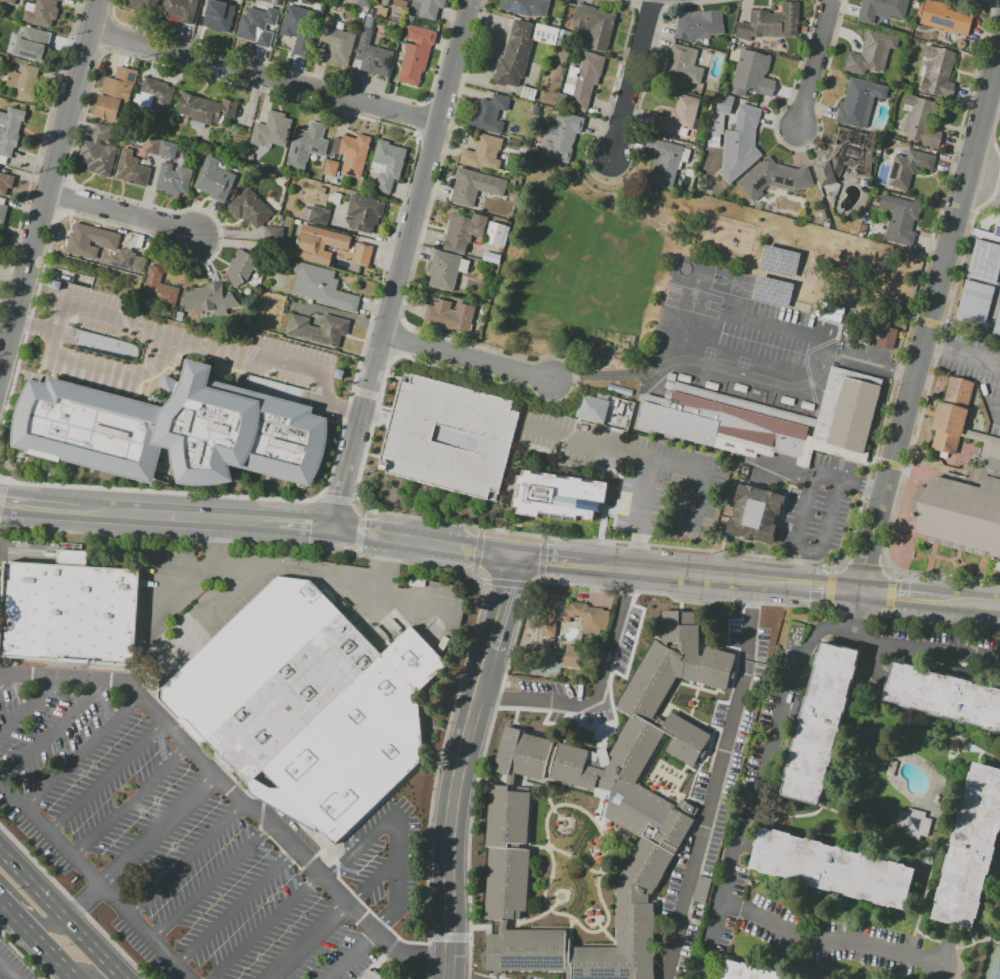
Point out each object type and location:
building: (9, 2)
building: (362, 3)
building: (141, 5)
building: (399, 7)
building: (526, 7)
building: (430, 8)
building: (179, 10)
building: (881, 10)
building: (41, 12)
building: (219, 15)
building: (946, 17)
building: (258, 20)
building: (297, 23)
building: (771, 23)
building: (595, 25)
building: (698, 25)
building: (5, 26)
road: (999, 45)
building: (338, 46)
building: (35, 47)
building: (416, 53)
building: (871, 53)
building: (373, 54)
building: (0, 55)
building: (515, 55)
building: (0, 59)
road: (812, 63)
building: (684, 64)
building: (937, 70)
road: (263, 75)
building: (752, 75)
road: (629, 79)
building: (585, 80)
building: (23, 82)
road: (247, 86)
building: (115, 93)
building: (159, 93)
road: (992, 99)
building: (859, 103)
building: (210, 108)
building: (489, 114)
building: (678, 116)
building: (718, 118)
building: (920, 121)
building: (10, 130)
building: (272, 130)
building: (561, 137)
building: (740, 143)
building: (306, 145)
building: (152, 146)
road: (794, 148)
building: (168, 150)
building: (99, 151)
building: (483, 153)
building: (353, 154)
building: (846, 156)
building: (2, 159)
building: (665, 160)
building: (388, 164)
building: (0, 167)
building: (908, 167)
building: (330, 168)
building: (131, 169)
road: (989, 176)
building: (774, 177)
road: (621, 178)
building: (214, 179)
building: (173, 181)
building: (5, 183)
road: (48, 183)
building: (474, 187)
building: (999, 191)
road: (63, 196)
building: (249, 208)
building: (2, 210)
road: (119, 212)
building: (363, 213)
building: (318, 216)
building: (900, 219)
building: (997, 228)
building: (463, 231)
building: (272, 234)
building: (497, 234)
building: (93, 243)
building: (318, 244)
building: (361, 255)
building: (491, 257)
building: (778, 260)
building: (984, 261)
building: (133, 262)
road: (400, 264)
building: (241, 267)
park: (682, 268)
building: (446, 270)
park: (731, 282)
building: (158, 287)
building: (321, 287)
building: (772, 291)
building: (212, 299)
park: (692, 300)
building: (974, 300)
building: (449, 316)
road: (929, 316)
road: (749, 318)
building: (997, 323)
building: (319, 329)
road: (187, 335)
building: (886, 337)
road: (397, 340)
road: (961, 354)
road: (466, 357)
road: (158, 358)
road: (83, 361)
road: (738, 372)
building: (953, 407)
road: (997, 407)
building: (592, 409)
building: (779, 418)
building: (171, 430)
building: (449, 437)
parking lot: (449, 437)
building: (985, 443)
road: (615, 446)
flagpole: (798, 474)
road: (864, 483)
road: (641, 490)
building: (557, 496)
road: (337, 497)
road: (809, 498)
road: (39, 502)
road: (178, 511)
building: (755, 513)
building: (962, 515)
road: (446, 522)
road: (305, 524)
road: (690, 525)
road: (828, 529)
road: (217, 534)
road: (425, 542)
road: (636, 548)
road: (546, 560)
road: (246, 562)
road: (386, 564)
parking lot: (2, 567)
road: (791, 569)
road: (666, 571)
road: (771, 582)
road: (242, 586)
road: (823, 587)
road: (895, 595)
parking lot: (193, 599)
road: (503, 602)
road: (966, 604)
building: (69, 612)
building: (576, 616)
building: (572, 655)
building: (250, 656)
road: (8, 682)
road: (597, 689)
building: (943, 696)
building: (295, 702)
road: (29, 706)
road: (785, 716)
building: (818, 726)
road: (54, 733)
building: (353, 746)
road: (82, 753)
road: (106, 776)
road: (716, 780)
road: (233, 795)
building: (609, 799)
road: (132, 803)
road: (450, 811)
building: (912, 823)
road: (396, 833)
parking lot: (191, 840)
road: (142, 847)
building: (970, 850)
road: (186, 860)
building: (831, 868)
road: (97, 879)
road: (212, 882)
building: (700, 889)
road: (236, 905)
road: (62, 911)
road: (18, 915)
road: (333, 919)
road: (52, 925)
road: (267, 926)
road: (829, 943)
building: (526, 950)
road: (354, 955)
road: (58, 956)
road: (946, 961)
park: (992, 963)
parking lot: (11, 967)
road: (917, 970)
road: (89, 972)
building: (752, 972)
road: (4, 974)
building: (371, 975)
road: (72, 976)
road: (458, 976)

